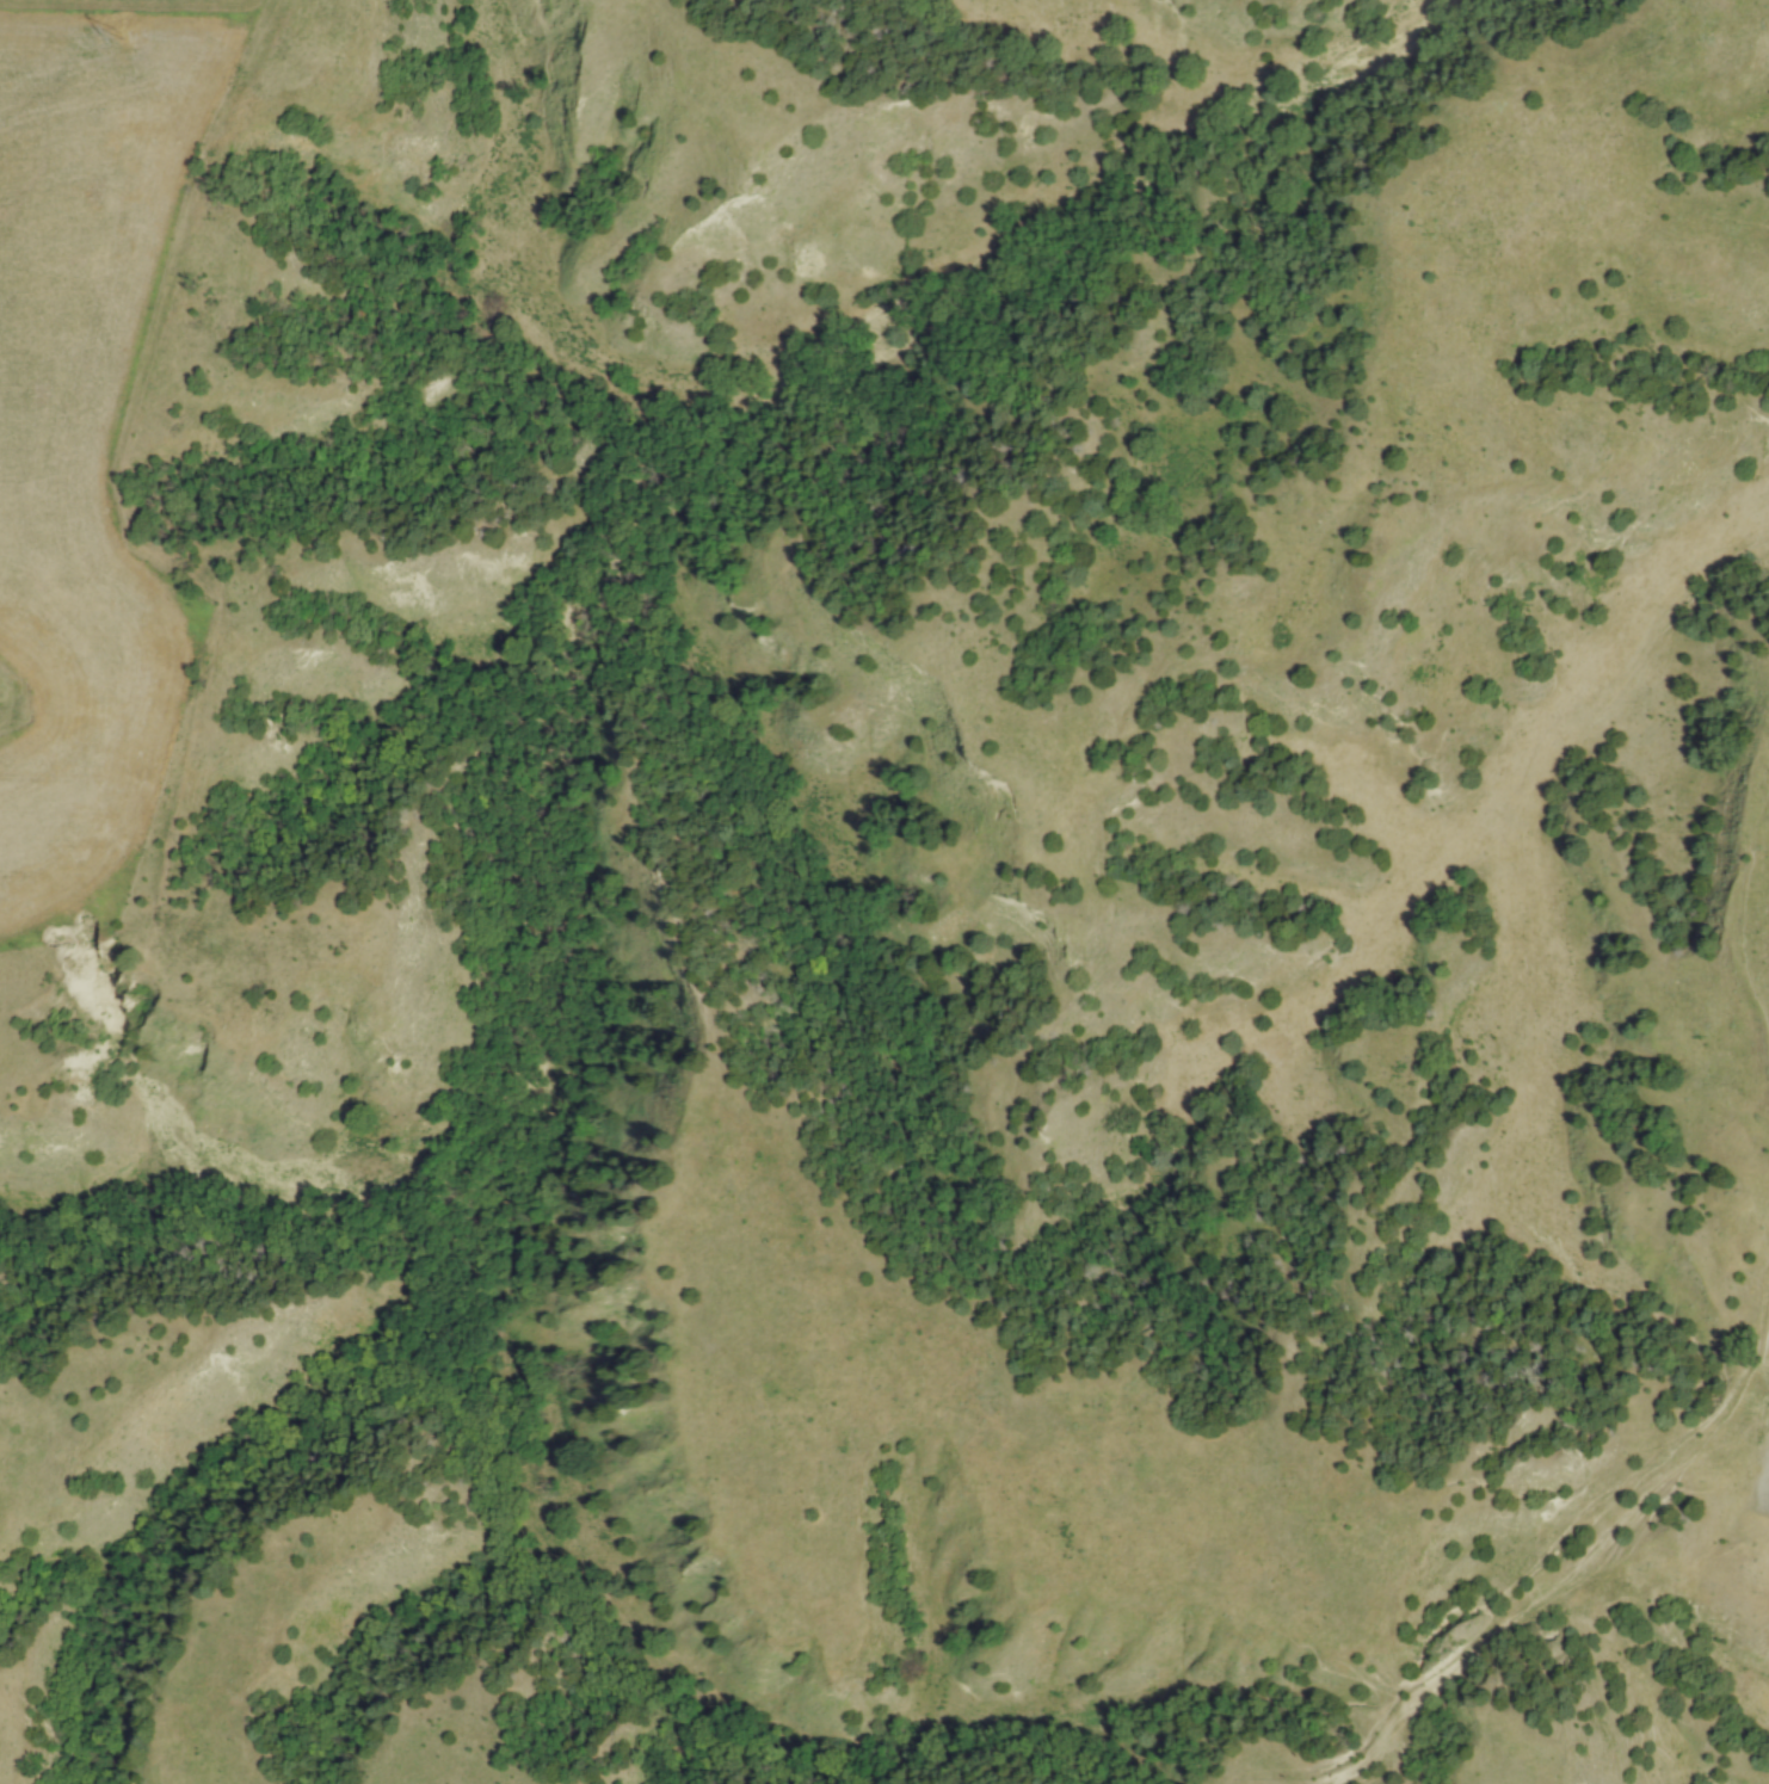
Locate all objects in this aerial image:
power tower: (119, 37)

